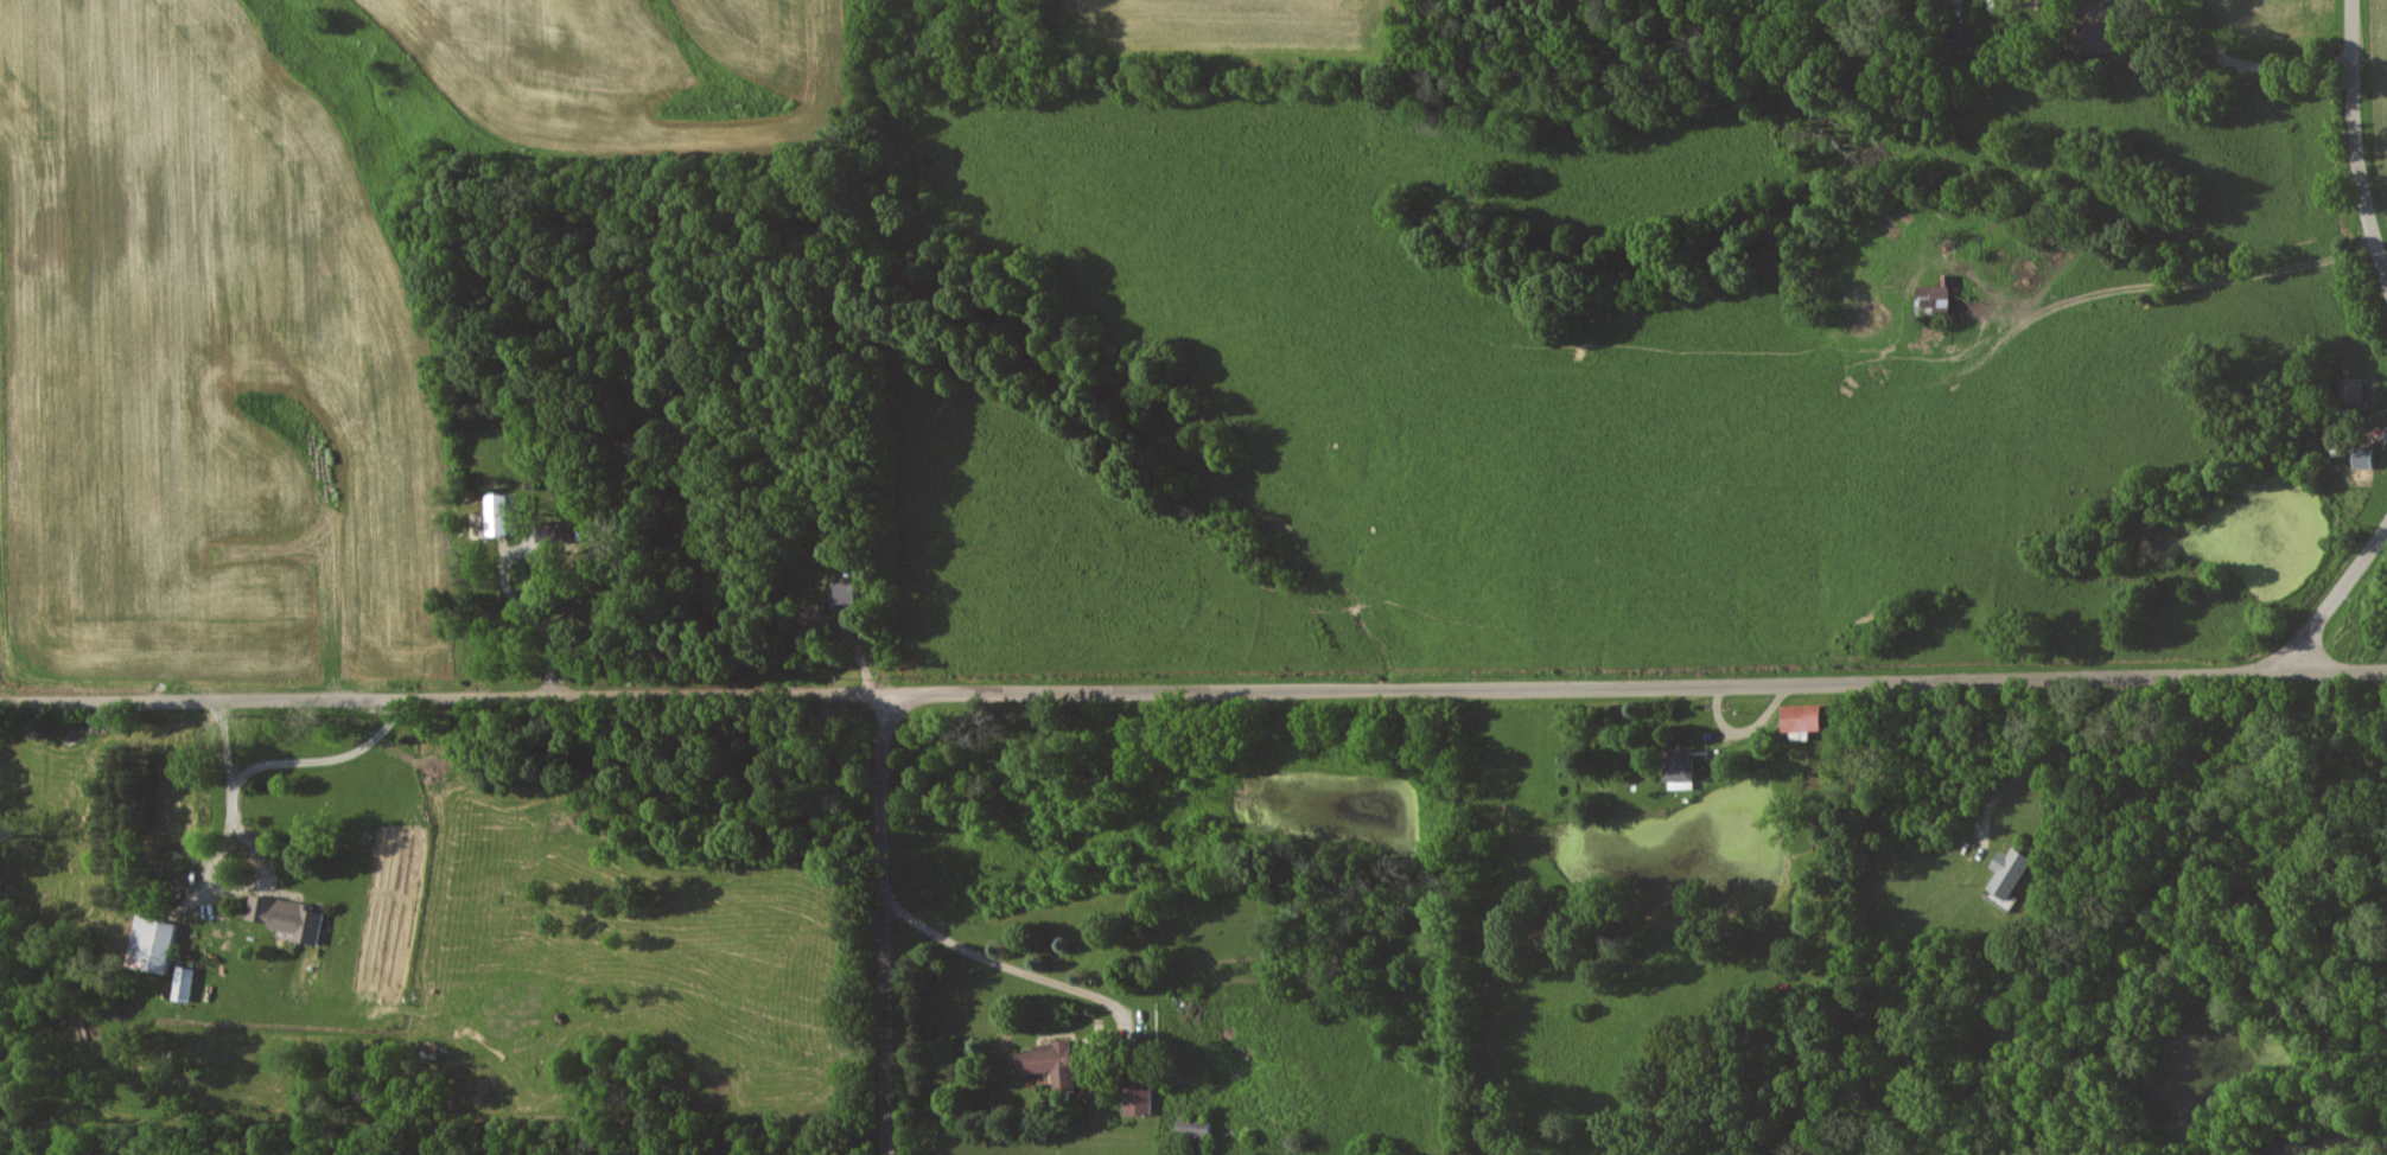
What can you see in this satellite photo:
building: (2088, 27)
building: (1955, 33)
road: (2236, 63)
road: (2356, 141)
building: (1936, 298)
road: (2159, 310)
building: (2348, 390)
building: (2361, 458)
building: (509, 513)
building: (851, 594)
road: (2334, 601)
road: (1193, 687)
building: (1806, 720)
road: (330, 760)
road: (2070, 764)
building: (1683, 771)
road: (219, 853)
building: (2012, 872)
building: (292, 917)
road: (2141, 917)
road: (879, 921)
building: (155, 942)
road: (997, 966)
building: (186, 983)
building: (1055, 1063)
building: (1142, 1097)
building: (1198, 1128)

